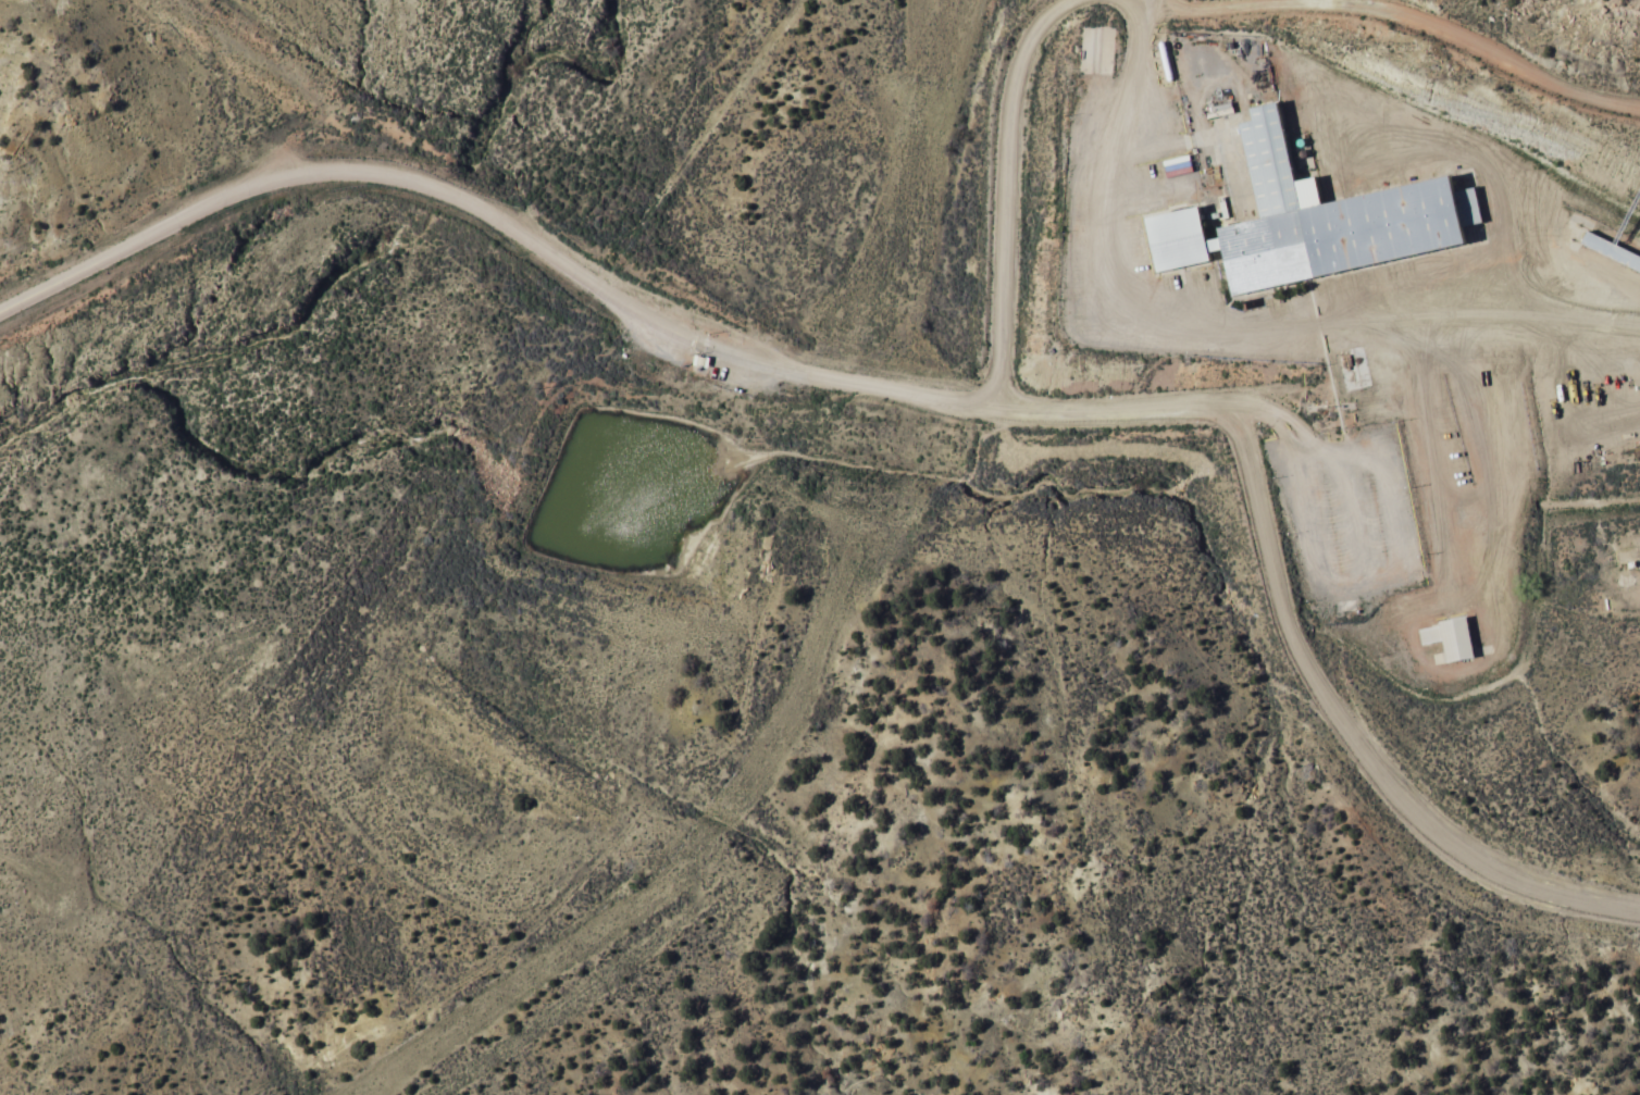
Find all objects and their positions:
building: (1315, 220)
road: (136, 239)
road: (573, 264)
road: (1302, 406)
building: (1453, 637)
railway: (822, 646)
road: (1351, 731)

